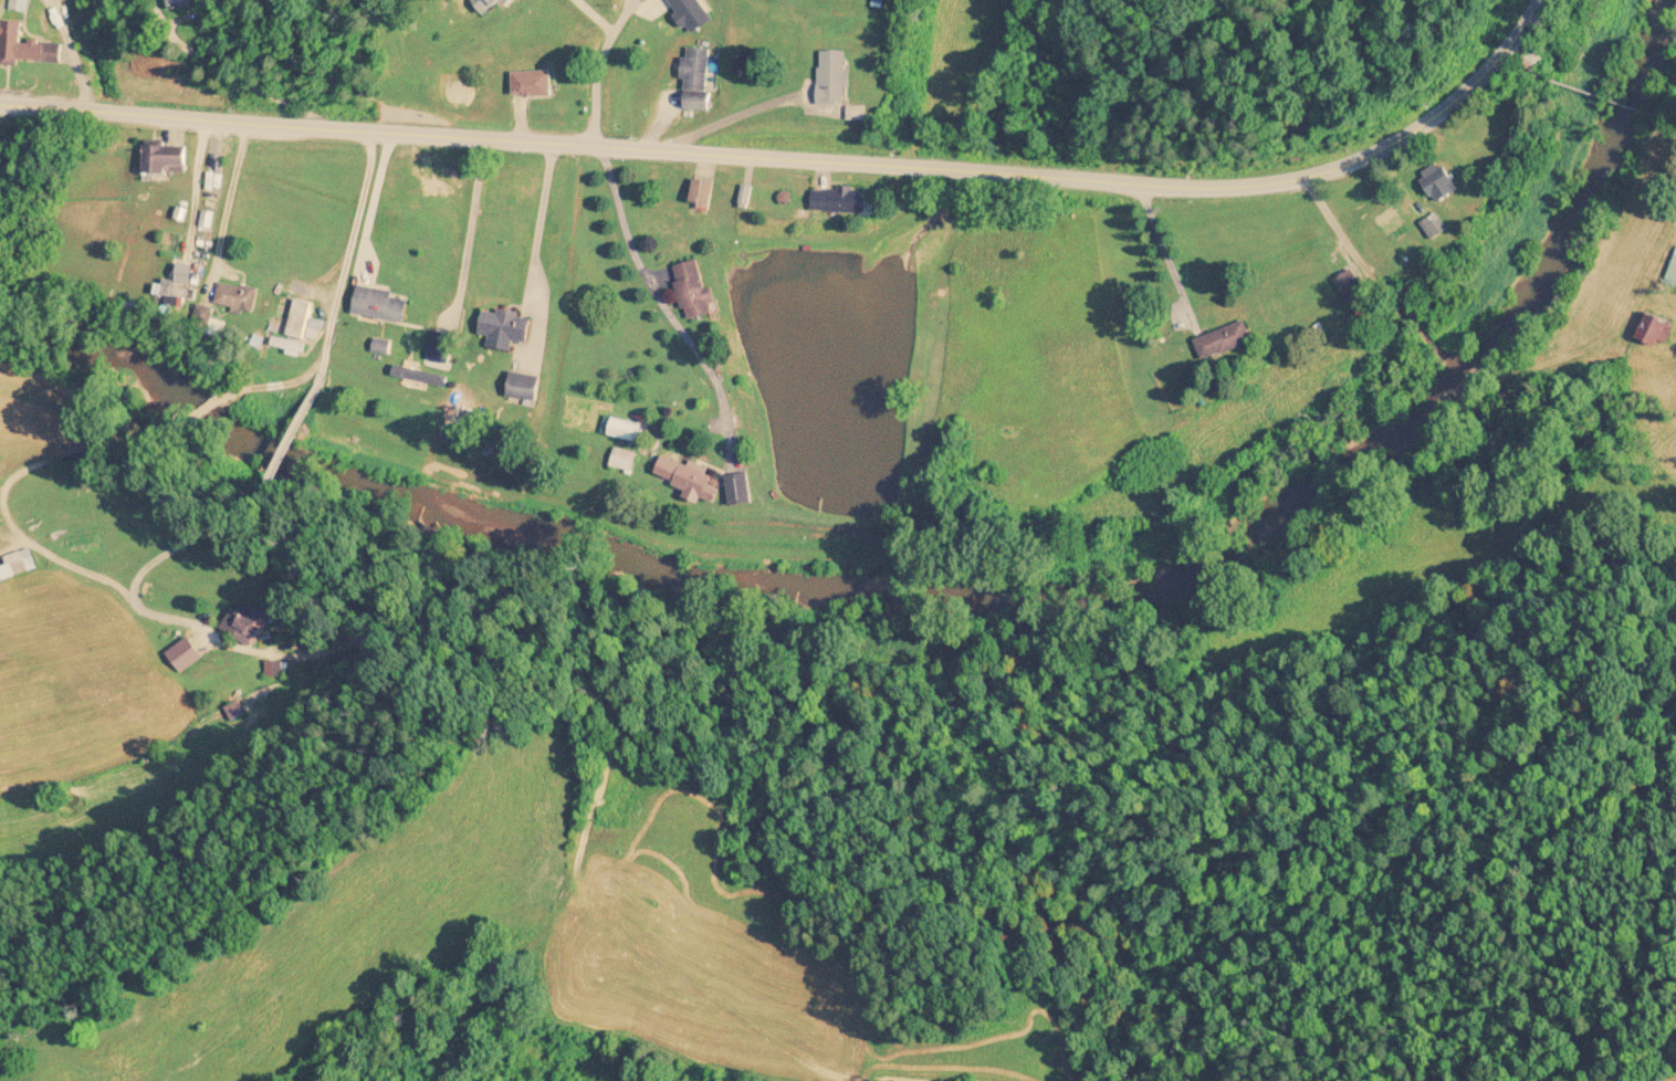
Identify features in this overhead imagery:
building: (18, 4)
building: (181, 4)
building: (490, 6)
building: (691, 14)
road: (589, 18)
building: (23, 48)
building: (1533, 61)
road: (600, 66)
building: (693, 70)
building: (835, 78)
building: (533, 84)
building: (698, 104)
building: (165, 159)
road: (802, 162)
building: (1439, 183)
building: (702, 192)
building: (839, 200)
building: (1434, 227)
building: (1672, 274)
building: (693, 290)
building: (1354, 292)
building: (174, 294)
road: (668, 295)
building: (235, 296)
building: (379, 304)
building: (296, 318)
building: (504, 328)
building: (1223, 340)
road: (1446, 368)
building: (523, 385)
building: (624, 460)
building: (699, 483)
building: (12, 566)
river: (944, 587)
building: (245, 625)
building: (182, 654)

